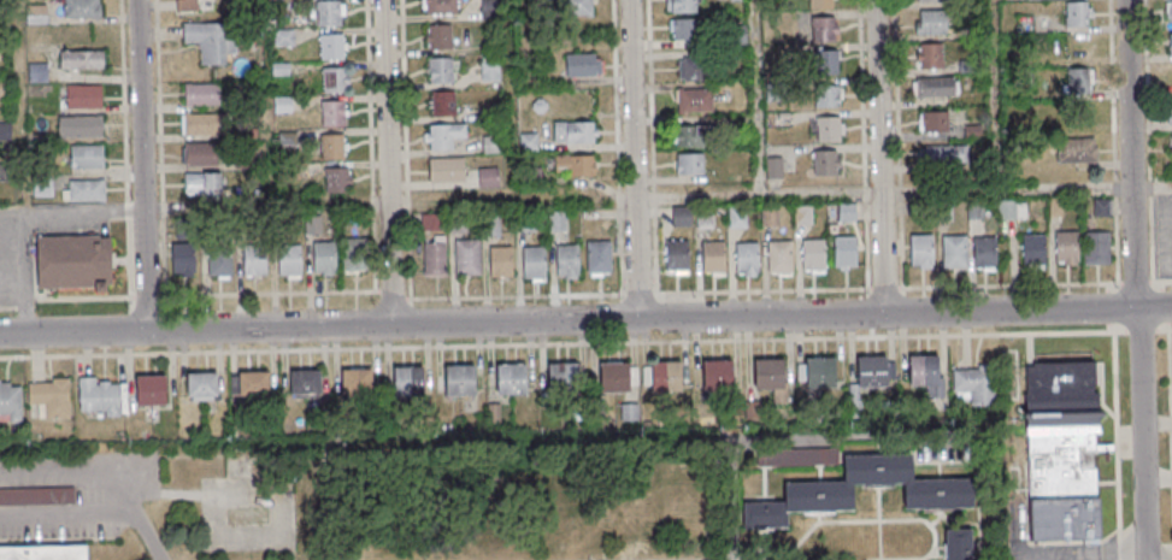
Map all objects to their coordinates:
building: (930, 1)
building: (189, 5)
building: (820, 5)
building: (440, 6)
building: (682, 6)
building: (579, 7)
building: (82, 8)
building: (489, 8)
building: (1168, 10)
building: (36, 13)
building: (329, 13)
building: (1077, 14)
building: (934, 23)
building: (685, 30)
building: (821, 30)
building: (737, 34)
building: (438, 37)
building: (207, 41)
building: (1170, 43)
building: (330, 47)
building: (930, 55)
building: (81, 59)
building: (828, 63)
building: (583, 64)
building: (693, 69)
building: (37, 71)
building: (440, 71)
building: (489, 72)
building: (1171, 77)
building: (332, 81)
building: (1078, 81)
building: (936, 86)
building: (4, 87)
building: (201, 93)
road: (994, 94)
building: (83, 96)
road: (755, 96)
building: (826, 96)
building: (694, 100)
building: (442, 105)
building: (1170, 112)
building: (332, 114)
building: (1082, 114)
building: (934, 120)
building: (201, 123)
building: (79, 125)
building: (829, 129)
building: (5, 130)
building: (575, 131)
building: (442, 135)
building: (693, 135)
building: (528, 142)
building: (490, 146)
building: (331, 147)
building: (1077, 149)
building: (201, 153)
building: (943, 153)
building: (86, 157)
road: (881, 157)
road: (635, 159)
building: (825, 161)
road: (387, 163)
building: (689, 164)
road: (140, 165)
building: (575, 165)
building: (447, 170)
building: (488, 177)
building: (531, 177)
building: (336, 181)
building: (202, 183)
road: (1152, 187)
road: (1007, 188)
building: (86, 190)
road: (759, 191)
building: (1011, 208)
building: (1103, 211)
building: (846, 212)
building: (803, 214)
building: (682, 216)
building: (737, 216)
building: (705, 217)
building: (770, 217)
road: (26, 218)
building: (523, 222)
building: (555, 222)
building: (455, 223)
building: (490, 225)
building: (1097, 247)
building: (1066, 248)
building: (1033, 249)
building: (844, 250)
building: (920, 250)
building: (954, 250)
building: (984, 253)
building: (353, 255)
building: (813, 255)
building: (677, 257)
building: (779, 257)
building: (323, 258)
building: (434, 258)
building: (466, 258)
building: (599, 258)
building: (713, 258)
building: (746, 258)
building: (183, 259)
building: (218, 260)
building: (253, 260)
building: (288, 260)
building: (566, 261)
building: (73, 263)
building: (500, 263)
building: (534, 263)
road: (1135, 279)
road: (585, 322)
road: (1170, 328)
road: (672, 340)
building: (815, 372)
building: (872, 372)
building: (768, 373)
building: (717, 375)
building: (925, 375)
building: (618, 376)
building: (665, 376)
building: (563, 377)
building: (511, 378)
building: (408, 381)
building: (459, 381)
building: (357, 382)
building: (249, 383)
building: (306, 383)
building: (201, 385)
building: (974, 385)
building: (151, 389)
building: (101, 396)
building: (49, 397)
building: (10, 400)
road: (1170, 408)
building: (494, 413)
building: (1062, 452)
road: (73, 478)
building: (36, 495)
building: (938, 495)
road: (65, 512)
road: (145, 535)
building: (958, 544)
building: (45, 553)
parking lot: (1065, 553)
road: (1115, 553)
road: (1060, 554)

